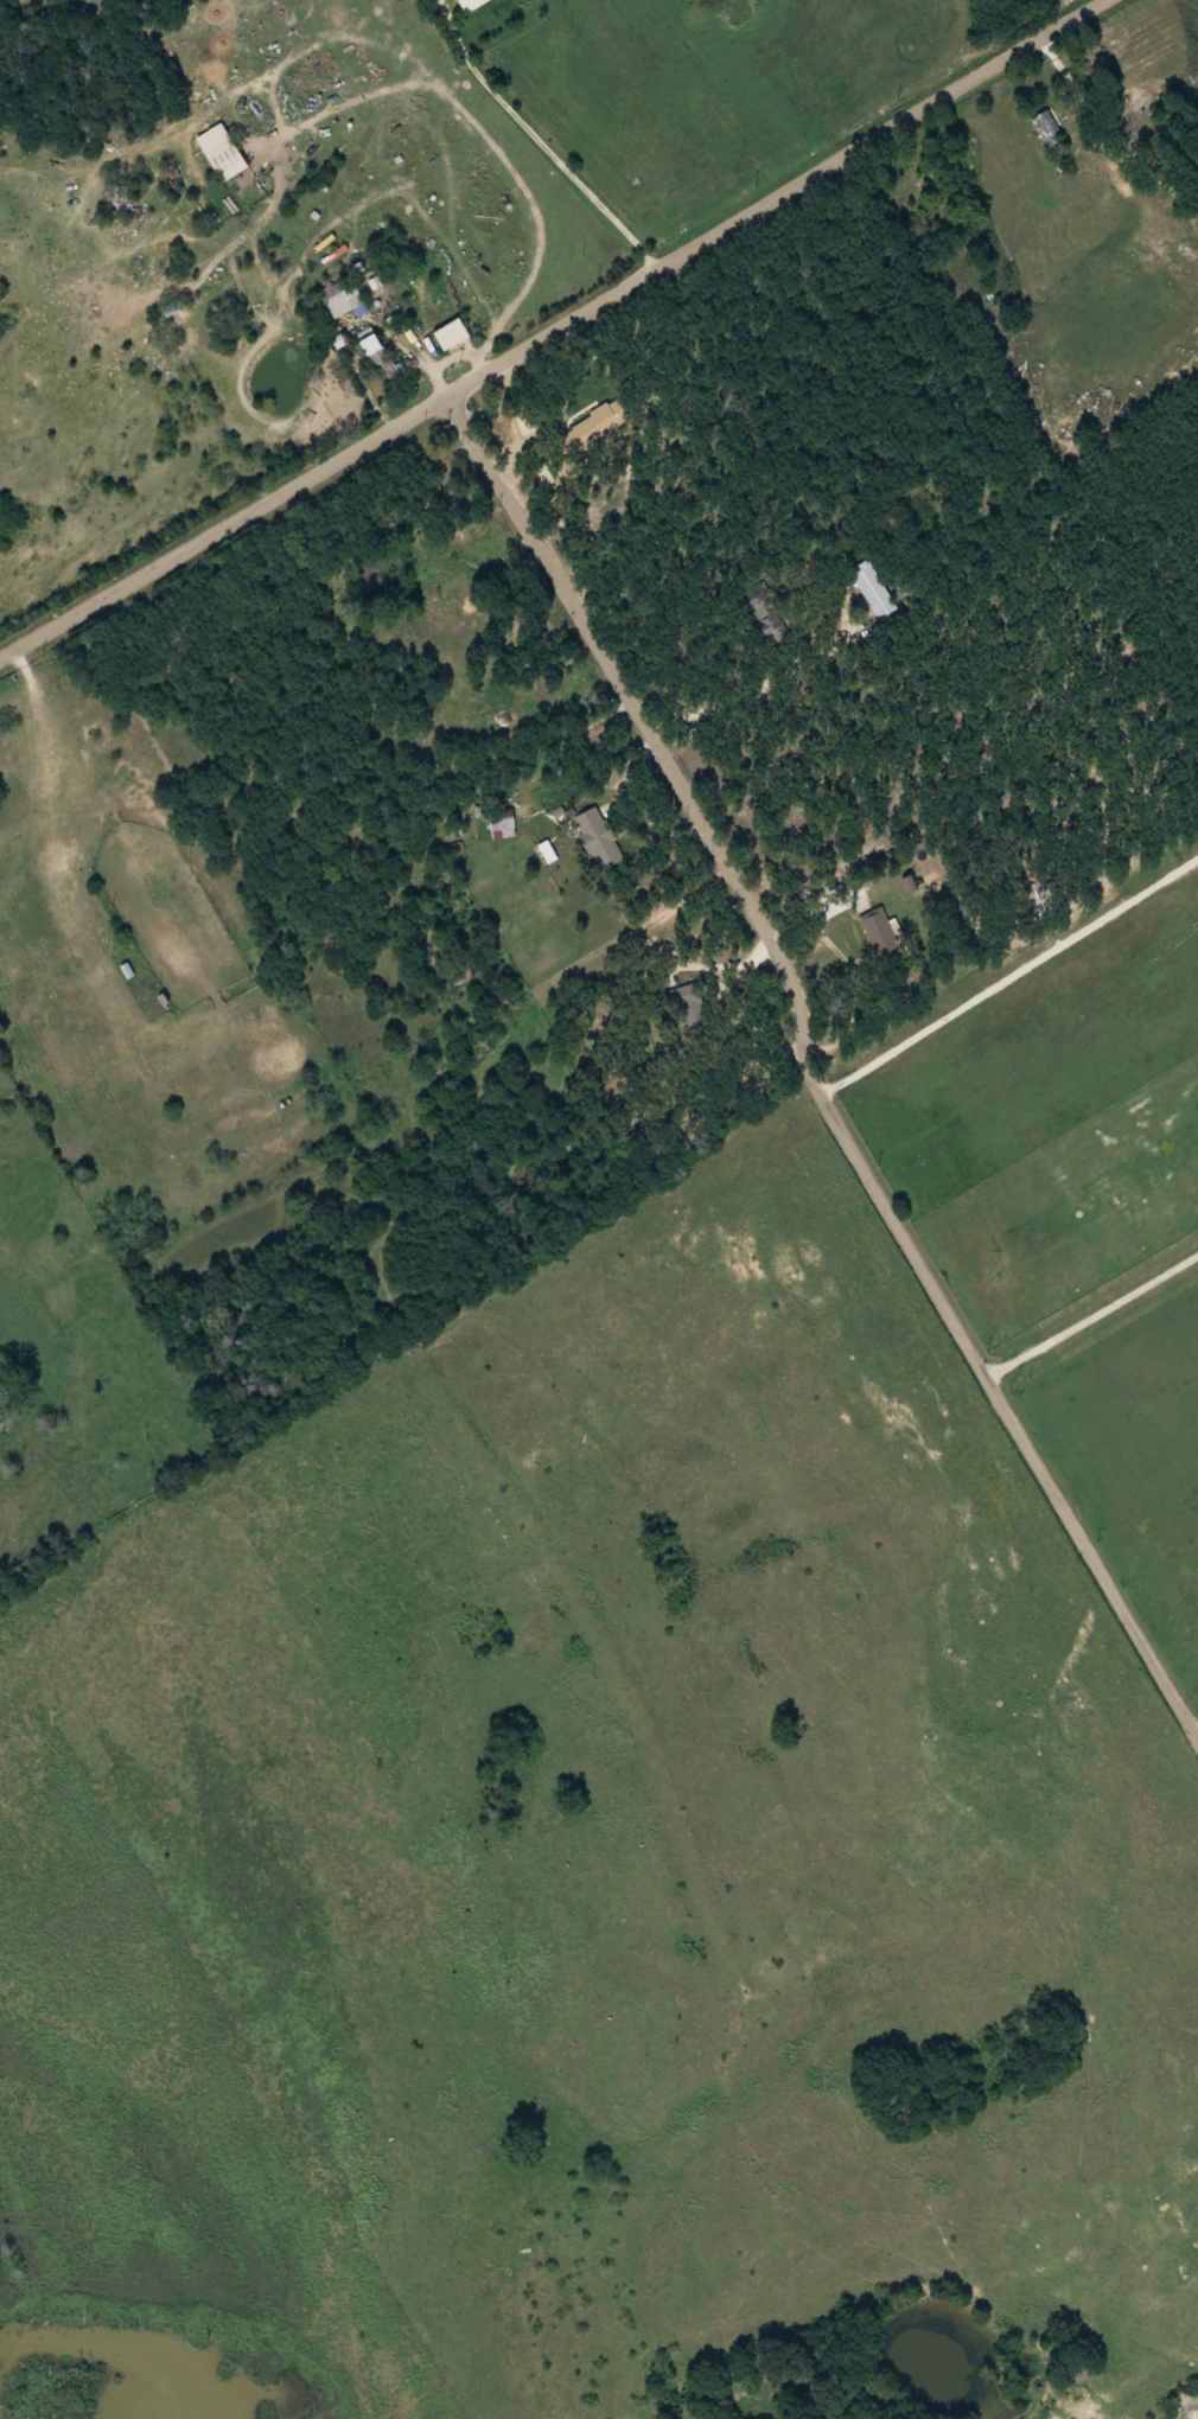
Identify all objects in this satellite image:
building: (470, 4)
building: (1049, 127)
building: (221, 153)
building: (120, 193)
building: (423, 296)
building: (342, 298)
building: (172, 307)
road: (554, 330)
building: (451, 336)
building: (382, 360)
building: (594, 427)
building: (872, 591)
building: (770, 620)
building: (502, 824)
building: (599, 838)
building: (884, 942)
road: (798, 982)
building: (686, 998)

